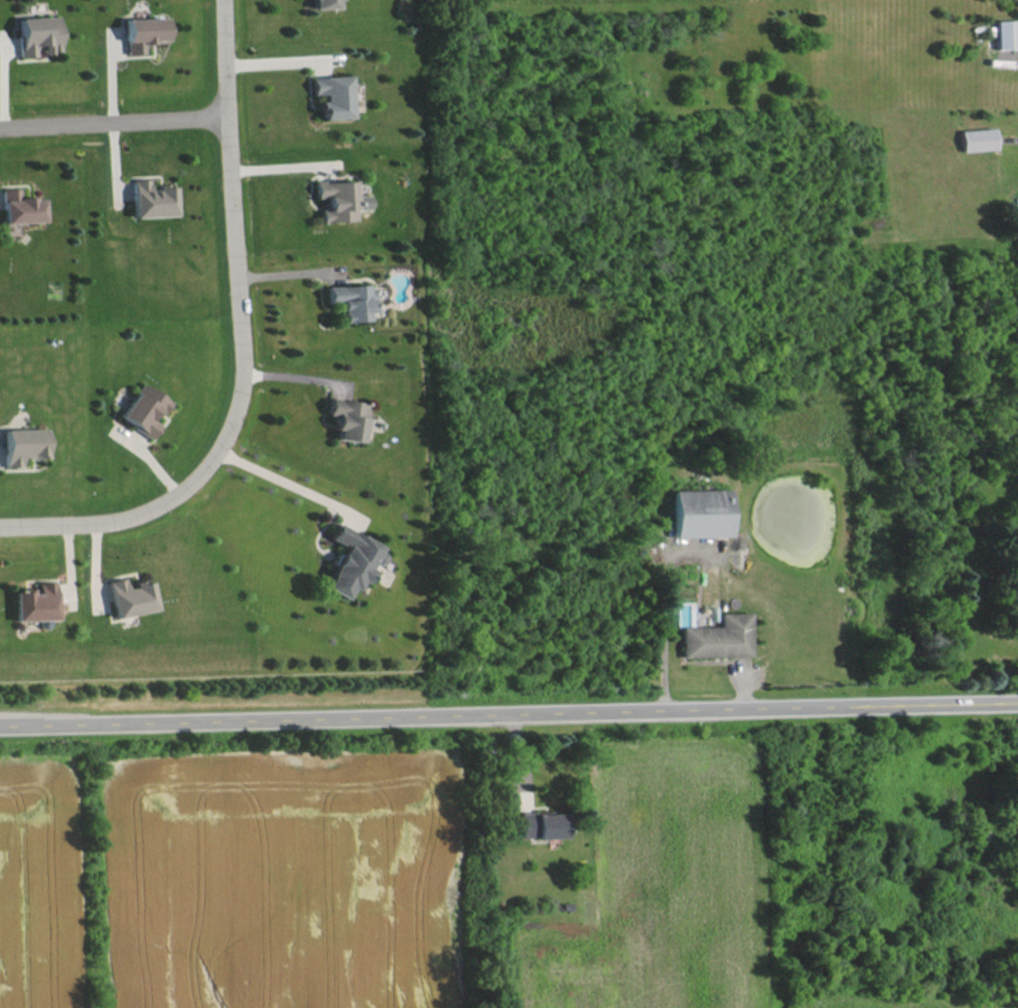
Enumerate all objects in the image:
building: (324, 3)
building: (142, 32)
building: (1007, 33)
building: (37, 34)
road: (281, 59)
road: (1014, 62)
building: (332, 95)
road: (112, 121)
building: (979, 139)
road: (283, 166)
building: (152, 198)
building: (339, 199)
building: (20, 206)
building: (351, 300)
road: (245, 350)
road: (299, 374)
building: (144, 409)
building: (348, 417)
building: (23, 444)
road: (290, 484)
building: (699, 512)
building: (349, 560)
building: (131, 596)
building: (36, 602)
building: (717, 636)
road: (508, 715)
building: (539, 824)

